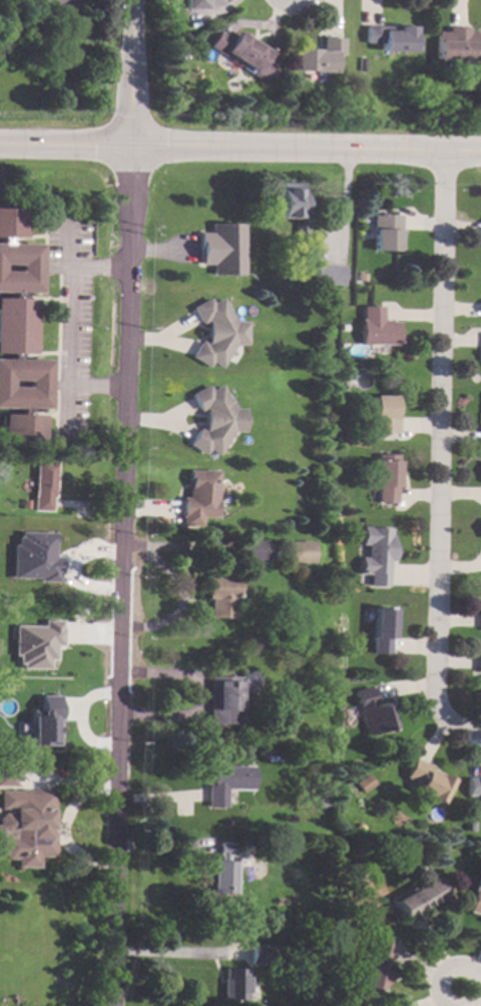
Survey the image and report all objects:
building: (3, 0)
building: (202, 4)
building: (389, 38)
building: (457, 44)
building: (244, 53)
building: (318, 56)
building: (362, 65)
road: (130, 72)
road: (64, 143)
road: (304, 150)
building: (289, 200)
building: (70, 212)
building: (387, 231)
building: (299, 232)
building: (217, 249)
road: (96, 271)
building: (327, 274)
building: (376, 327)
road: (67, 328)
building: (213, 332)
building: (18, 338)
road: (95, 387)
building: (383, 415)
building: (211, 420)
road: (437, 436)
building: (480, 443)
building: (480, 473)
building: (385, 478)
building: (41, 485)
building: (197, 497)
building: (479, 528)
building: (253, 551)
building: (298, 551)
building: (376, 554)
building: (32, 558)
road: (121, 575)
building: (220, 596)
building: (479, 607)
building: (8, 613)
building: (381, 630)
building: (35, 644)
building: (87, 653)
building: (0, 654)
building: (478, 662)
building: (82, 696)
building: (225, 697)
road: (199, 698)
building: (374, 712)
road: (456, 722)
building: (44, 723)
building: (278, 751)
building: (273, 759)
building: (7, 776)
building: (92, 777)
building: (429, 781)
building: (367, 783)
building: (225, 784)
building: (475, 787)
building: (321, 803)
building: (25, 826)
building: (471, 826)
road: (61, 829)
building: (356, 869)
building: (224, 870)
building: (475, 897)
building: (417, 899)
building: (338, 904)
building: (315, 921)
building: (256, 951)
building: (311, 952)
building: (374, 965)
road: (444, 974)
building: (236, 984)

